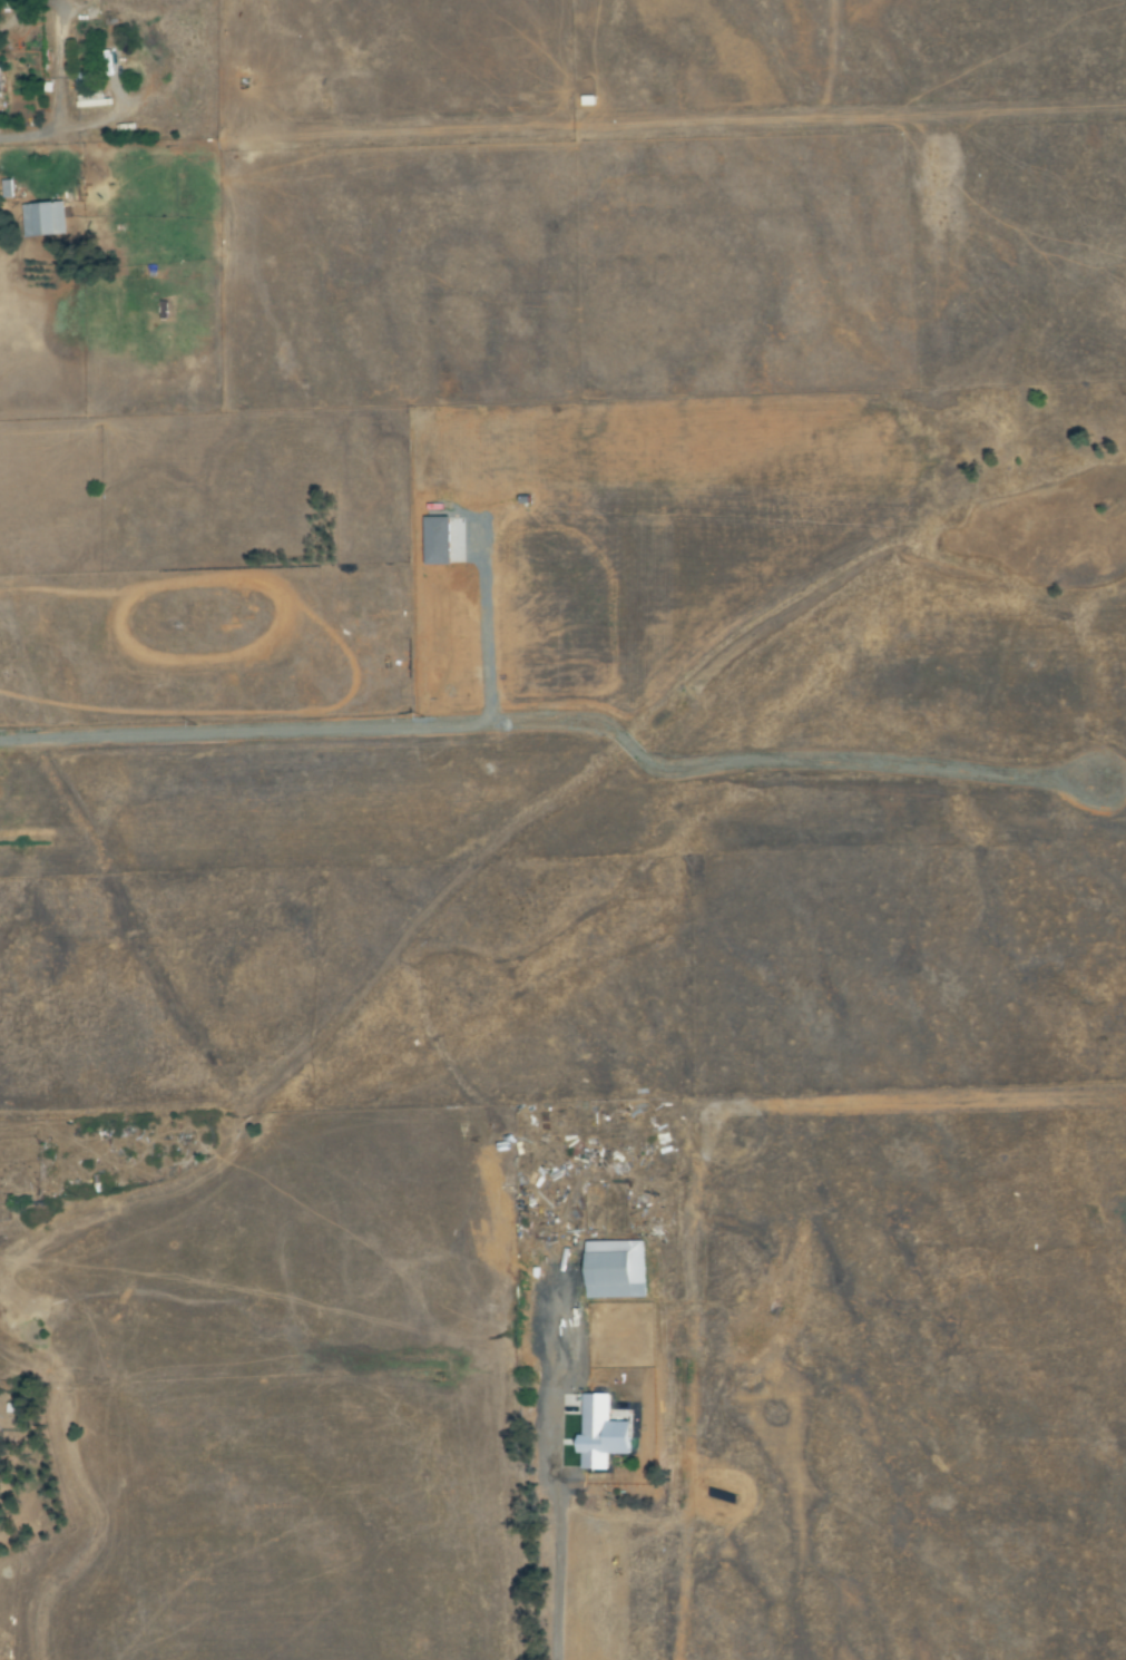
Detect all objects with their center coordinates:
building: (81, 84)
road: (60, 95)
building: (45, 218)
building: (615, 1269)
building: (603, 1433)
road: (546, 1542)

